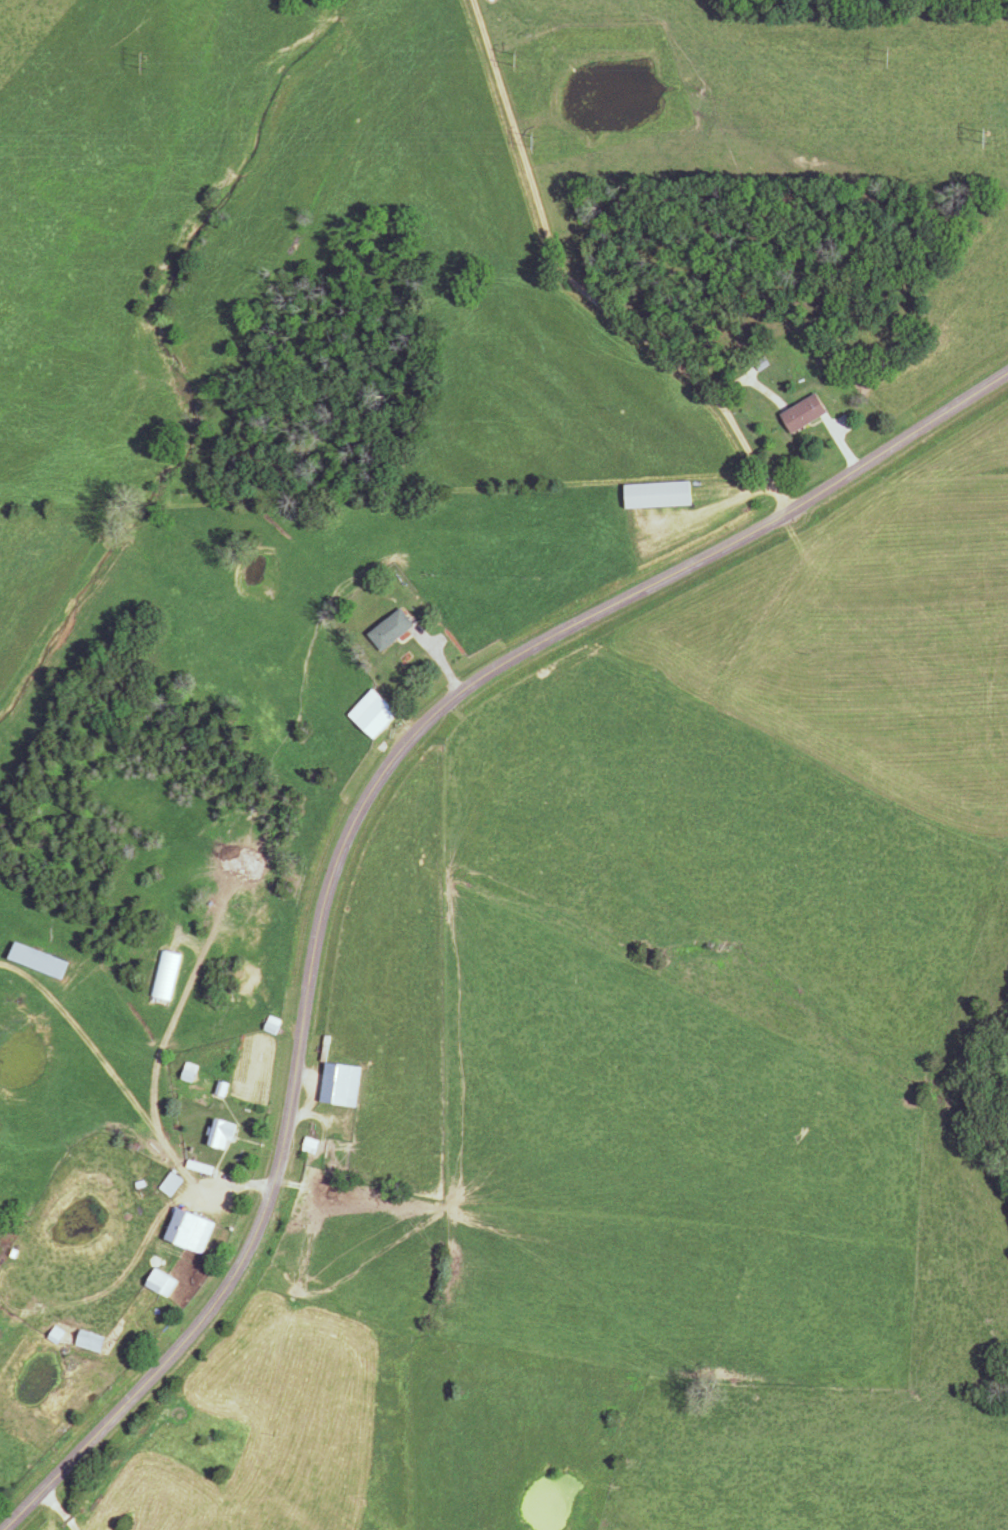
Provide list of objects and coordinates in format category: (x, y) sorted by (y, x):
road: (585, 291)
building: (807, 413)
building: (661, 494)
building: (392, 629)
building: (375, 713)
road: (354, 834)
building: (39, 960)
building: (165, 975)
building: (344, 1084)
building: (225, 1133)
building: (312, 1145)
building: (172, 1184)
building: (192, 1230)
building: (163, 1283)
building: (58, 1335)
building: (93, 1341)
road: (57, 1510)

